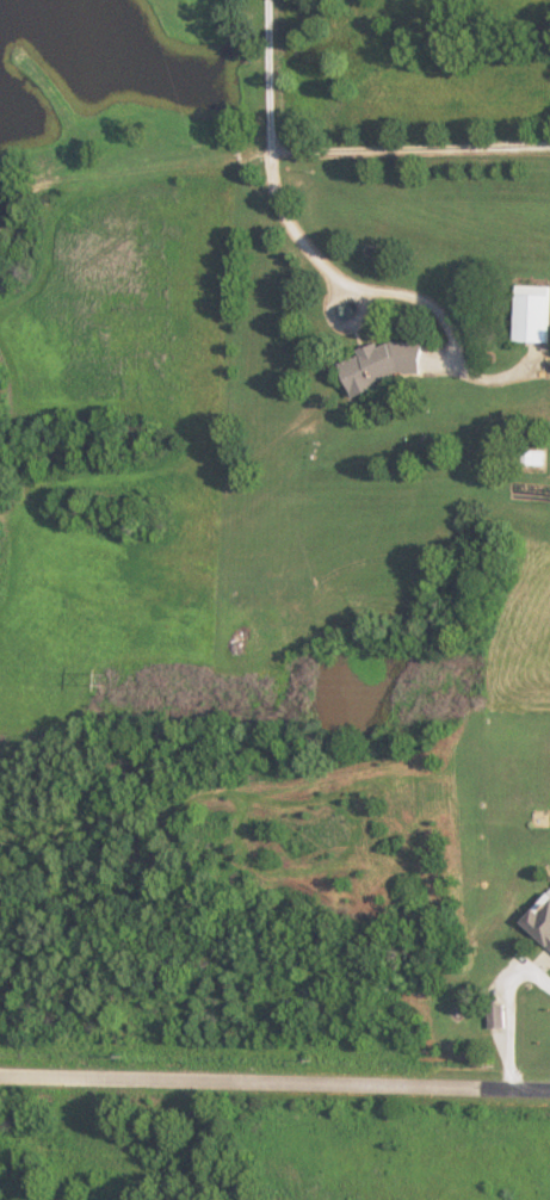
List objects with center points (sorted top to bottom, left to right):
building: (533, 314)
building: (385, 364)
building: (534, 458)
power tower: (113, 681)
building: (542, 922)
road: (505, 1013)
road: (274, 1084)

